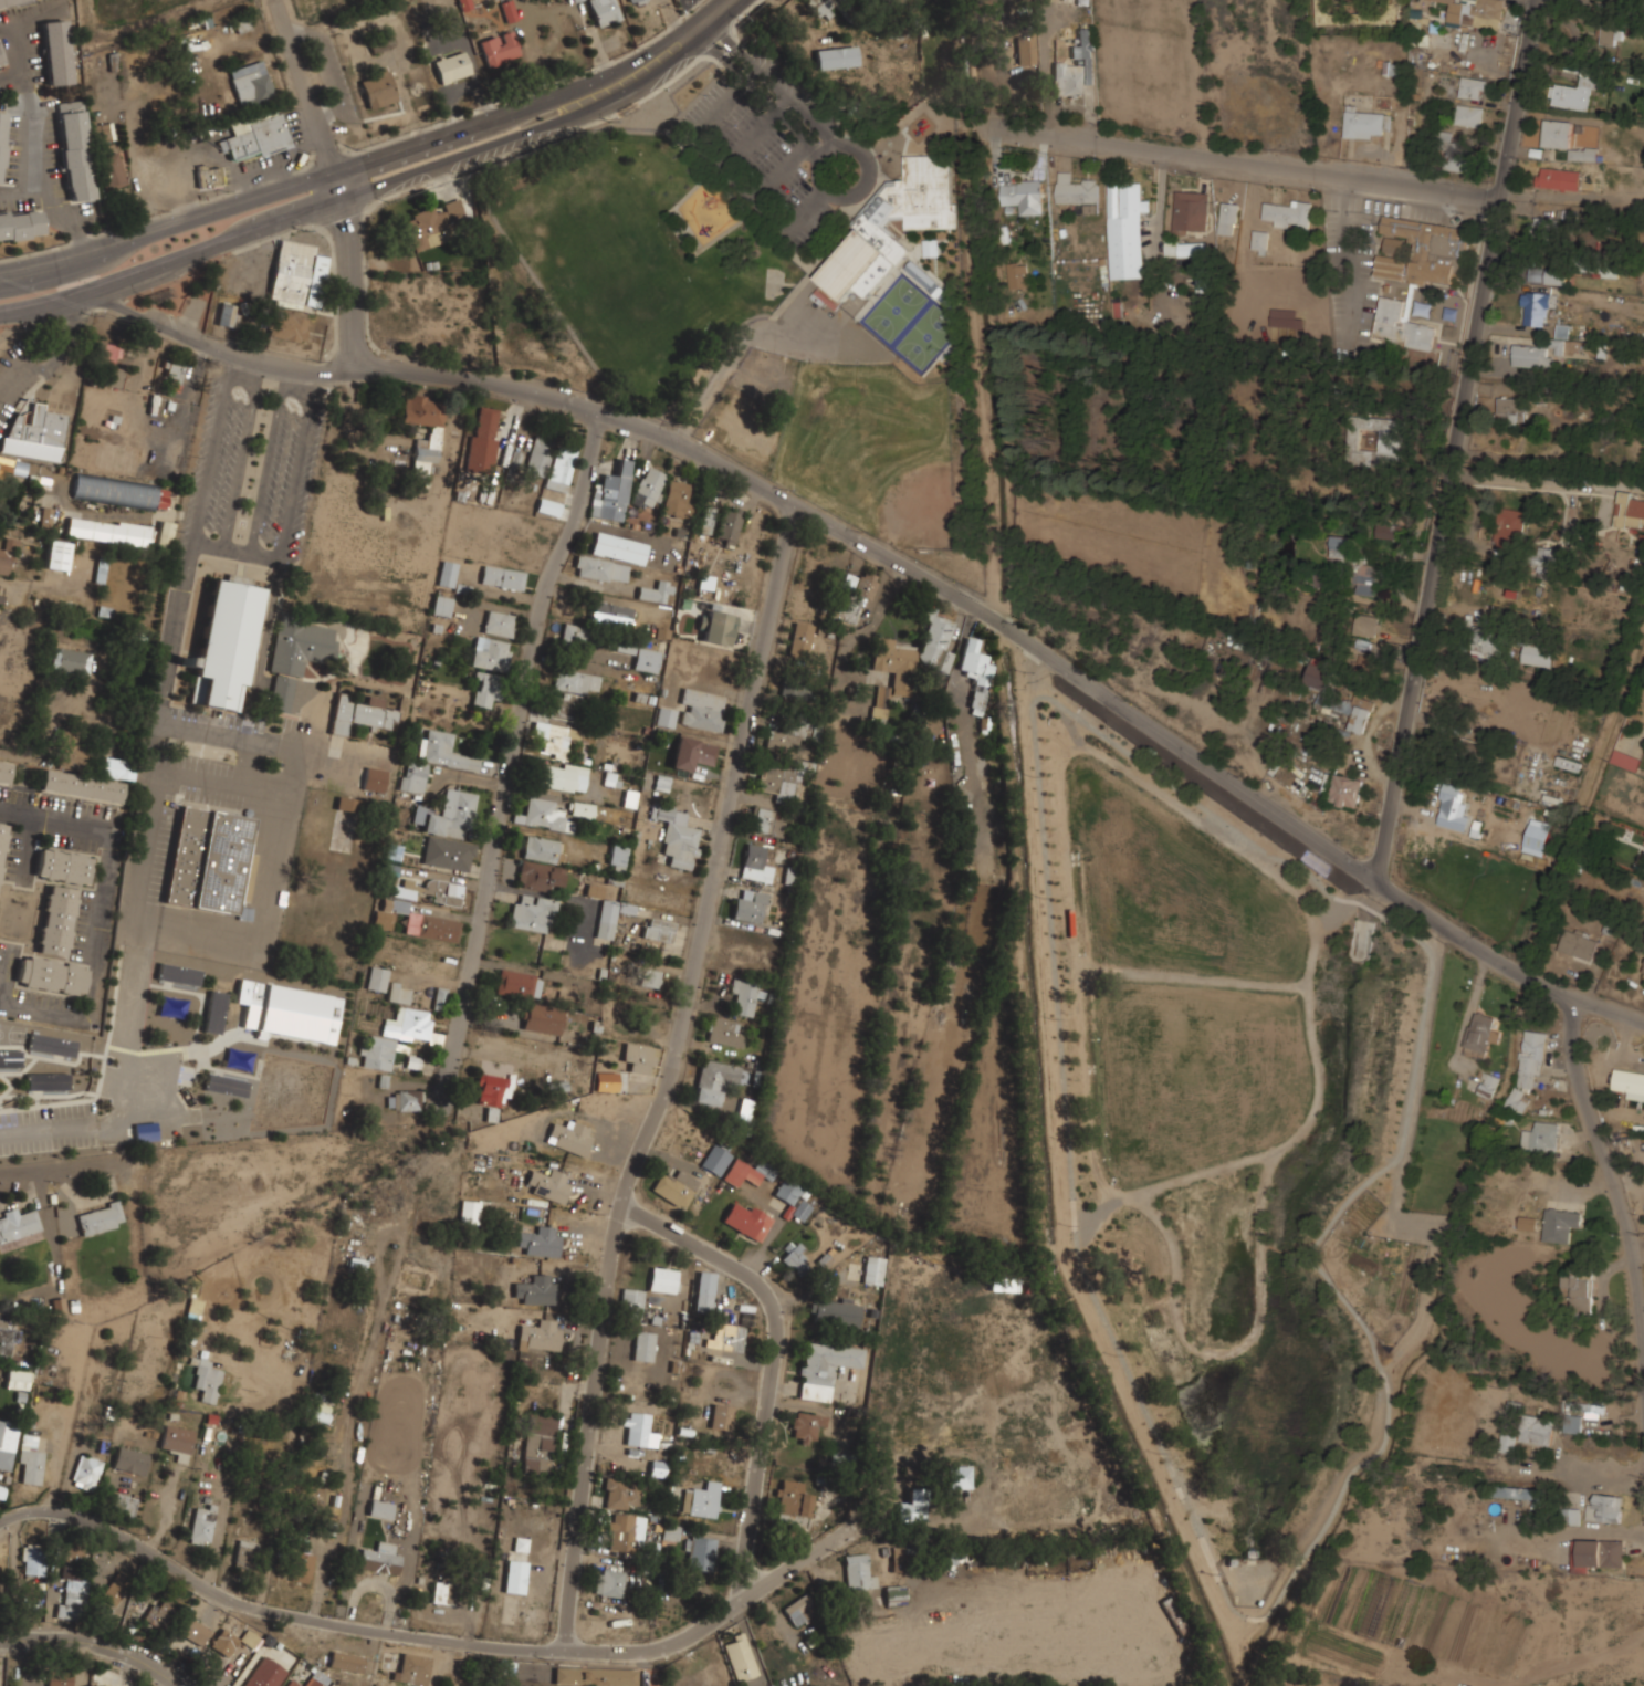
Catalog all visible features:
building: (574, 0)
building: (632, 0)
building: (8, 2)
building: (820, 7)
building: (604, 11)
building: (1326, 11)
building: (1473, 11)
road: (715, 12)
building: (1610, 34)
building: (499, 49)
building: (1025, 51)
building: (56, 52)
building: (1085, 53)
building: (2, 54)
parking lot: (1153, 66)
building: (452, 67)
building: (1393, 69)
road: (11, 73)
building: (1067, 80)
building: (251, 83)
building: (1473, 87)
building: (377, 88)
building: (1575, 88)
building: (1468, 115)
building: (1363, 124)
building: (256, 136)
building: (1566, 138)
building: (2, 140)
road: (35, 142)
road: (303, 146)
road: (206, 149)
building: (74, 150)
building: (1455, 155)
road: (356, 164)
road: (1239, 164)
road: (278, 167)
road: (411, 170)
building: (111, 171)
road: (135, 172)
building: (209, 177)
building: (1558, 177)
road: (339, 178)
building: (1076, 189)
building: (1024, 196)
building: (1191, 211)
building: (1288, 213)
building: (1228, 218)
park: (679, 221)
building: (432, 222)
building: (20, 226)
building: (871, 228)
building: (1544, 228)
building: (1127, 229)
building: (436, 238)
building: (1259, 241)
building: (1392, 244)
building: (1426, 248)
road: (1344, 259)
building: (1198, 262)
building: (1389, 266)
building: (1600, 266)
building: (1187, 268)
building: (296, 273)
building: (1548, 274)
building: (1018, 275)
road: (50, 300)
building: (1536, 307)
building: (227, 314)
building: (1401, 325)
building: (289, 326)
building: (1563, 329)
building: (1536, 353)
building: (106, 354)
road: (231, 360)
road: (258, 369)
building: (175, 373)
road: (286, 375)
building: (115, 377)
road: (314, 377)
building: (1510, 408)
building: (422, 410)
building: (484, 433)
building: (34, 434)
road: (1454, 439)
building: (1378, 441)
building: (426, 452)
road: (213, 454)
building: (538, 457)
road: (239, 461)
building: (4, 465)
road: (266, 467)
building: (561, 467)
parking lot: (289, 468)
road: (296, 471)
road: (1531, 481)
building: (648, 488)
building: (121, 492)
building: (610, 494)
building: (677, 500)
building: (549, 507)
building: (1630, 510)
park: (921, 511)
building: (45, 517)
building: (706, 521)
building: (729, 526)
building: (1510, 527)
building: (1388, 528)
building: (107, 532)
building: (1624, 534)
building: (1341, 546)
building: (619, 548)
road: (238, 549)
building: (56, 555)
building: (7, 556)
building: (1547, 559)
road: (908, 565)
building: (601, 569)
building: (447, 574)
building: (502, 577)
building: (1365, 579)
road: (20, 583)
building: (860, 588)
building: (656, 591)
building: (1, 598)
building: (441, 606)
building: (610, 614)
building: (1366, 620)
building: (499, 624)
building: (719, 628)
building: (575, 636)
building: (800, 638)
building: (935, 641)
building: (226, 642)
building: (1489, 642)
building: (299, 643)
building: (490, 653)
building: (1539, 653)
building: (70, 660)
building: (646, 660)
building: (894, 660)
building: (975, 661)
building: (575, 681)
building: (486, 689)
building: (796, 690)
building: (280, 693)
building: (1328, 698)
building: (881, 701)
building: (565, 704)
building: (702, 710)
building: (359, 713)
building: (666, 718)
building: (933, 722)
building: (786, 735)
building: (553, 740)
building: (70, 747)
building: (442, 752)
building: (692, 753)
road: (509, 758)
building: (1626, 758)
building: (1568, 763)
building: (117, 768)
building: (4, 771)
parking lot: (211, 775)
building: (412, 777)
building: (565, 777)
building: (374, 779)
building: (776, 779)
building: (81, 786)
building: (1345, 790)
building: (1453, 796)
building: (347, 804)
building: (580, 809)
building: (418, 815)
building: (451, 815)
building: (543, 816)
road: (51, 817)
building: (768, 820)
building: (677, 836)
building: (2, 840)
building: (540, 849)
building: (448, 854)
building: (617, 855)
building: (208, 860)
building: (755, 862)
building: (63, 866)
building: (538, 876)
building: (248, 877)
building: (405, 889)
building: (594, 890)
building: (443, 891)
building: (395, 905)
building: (750, 905)
building: (532, 913)
building: (610, 917)
building: (383, 920)
building: (57, 921)
building: (431, 928)
building: (659, 930)
building: (1579, 943)
road: (94, 966)
building: (178, 974)
building: (52, 975)
building: (1643, 975)
building: (377, 978)
building: (649, 978)
building: (517, 984)
building: (398, 994)
building: (439, 998)
building: (743, 998)
building: (214, 1012)
building: (289, 1012)
building: (542, 1018)
building: (408, 1024)
building: (725, 1033)
building: (1479, 1035)
building: (51, 1045)
building: (377, 1053)
building: (10, 1058)
building: (638, 1058)
building: (1529, 1065)
road: (669, 1076)
building: (1629, 1080)
building: (46, 1081)
building: (713, 1081)
building: (224, 1085)
building: (1489, 1085)
building: (493, 1089)
road: (1279, 1090)
road: (126, 1099)
building: (744, 1110)
building: (145, 1131)
building: (1541, 1135)
building: (570, 1138)
building: (716, 1160)
building: (747, 1173)
road: (1609, 1174)
building: (547, 1184)
building: (676, 1187)
road: (1357, 1188)
building: (793, 1198)
building: (469, 1212)
building: (101, 1218)
building: (746, 1219)
building: (1528, 1223)
building: (1561, 1224)
building: (19, 1225)
road: (1637, 1242)
building: (540, 1243)
building: (794, 1257)
building: (873, 1269)
building: (662, 1279)
building: (1004, 1284)
building: (1580, 1288)
building: (536, 1290)
building: (703, 1300)
building: (631, 1302)
building: (834, 1311)
road: (1643, 1328)
building: (540, 1336)
building: (726, 1337)
building: (8, 1338)
building: (643, 1345)
road: (1228, 1348)
road: (774, 1358)
building: (824, 1366)
building: (17, 1380)
building: (206, 1380)
building: (1581, 1406)
building: (1595, 1410)
building: (721, 1416)
building: (806, 1424)
building: (1572, 1424)
building: (636, 1426)
building: (1537, 1430)
building: (177, 1442)
building: (538, 1443)
building: (1508, 1443)
building: (7, 1444)
building: (30, 1459)
building: (130, 1460)
building: (85, 1473)
building: (961, 1476)
building: (1519, 1493)
building: (622, 1494)
building: (702, 1500)
building: (792, 1504)
building: (123, 1505)
building: (1605, 1507)
building: (380, 1509)
building: (911, 1510)
building: (1571, 1516)
building: (201, 1525)
building: (671, 1531)
building: (626, 1532)
building: (700, 1552)
building: (1602, 1552)
building: (244, 1554)
building: (34, 1559)
building: (379, 1559)
building: (898, 1559)
building: (72, 1564)
building: (301, 1567)
building: (858, 1571)
building: (514, 1577)
building: (609, 1582)
building: (116, 1586)
building: (442, 1593)
road: (219, 1594)
building: (894, 1594)
building: (71, 1604)
building: (1375, 1605)
building: (800, 1609)
building: (158, 1613)
building: (195, 1631)
building: (249, 1638)
road: (95, 1642)
building: (223, 1642)
road: (667, 1646)
building: (740, 1657)
building: (347, 1661)
road: (454, 1664)
building: (412, 1668)
building: (265, 1674)
building: (595, 1676)
building: (60, 1677)
building: (113, 1679)
building: (318, 1679)
building: (291, 1683)

